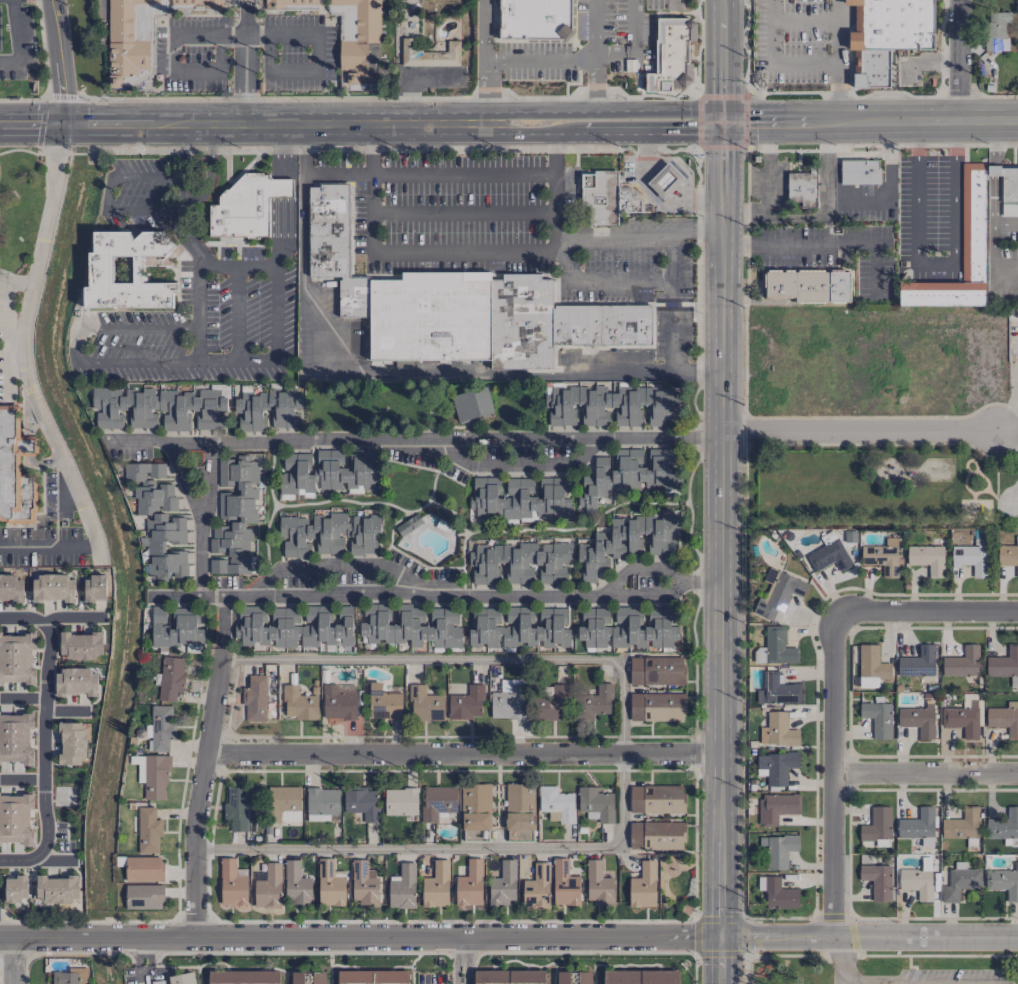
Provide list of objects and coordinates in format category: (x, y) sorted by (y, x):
building: (196, 3)
building: (291, 3)
road: (722, 12)
building: (536, 20)
road: (805, 22)
road: (593, 29)
road: (485, 31)
building: (996, 31)
road: (840, 33)
building: (887, 35)
building: (358, 38)
road: (18, 40)
building: (125, 42)
road: (633, 47)
road: (173, 49)
road: (317, 51)
building: (672, 54)
building: (416, 55)
road: (957, 60)
road: (540, 61)
road: (59, 62)
road: (245, 62)
road: (772, 66)
road: (722, 73)
road: (593, 84)
road: (488, 93)
road: (840, 94)
road: (606, 109)
road: (852, 121)
road: (926, 121)
road: (987, 121)
road: (765, 122)
traffic signals: (722, 123)
road: (151, 124)
road: (198, 124)
road: (350, 124)
road: (33, 125)
road: (91, 125)
road: (536, 134)
road: (654, 134)
road: (994, 143)
road: (302, 148)
road: (370, 148)
road: (553, 153)
building: (756, 158)
road: (768, 170)
road: (994, 170)
road: (462, 172)
building: (859, 172)
road: (337, 173)
building: (665, 180)
gas station: (665, 180)
building: (802, 188)
building: (1009, 191)
road: (279, 194)
building: (600, 197)
road: (826, 197)
building: (630, 200)
road: (994, 200)
building: (247, 206)
road: (554, 206)
road: (115, 210)
road: (463, 213)
road: (744, 218)
building: (973, 222)
road: (1006, 226)
road: (697, 232)
road: (615, 236)
road: (189, 237)
road: (795, 244)
road: (428, 253)
road: (994, 263)
road: (242, 265)
road: (935, 266)
road: (873, 269)
building: (126, 272)
road: (600, 281)
building: (809, 286)
road: (672, 303)
building: (459, 306)
road: (237, 313)
road: (7, 320)
road: (78, 344)
road: (234, 360)
road: (432, 373)
road: (28, 386)
building: (472, 404)
building: (610, 405)
building: (157, 409)
building: (267, 409)
road: (1006, 419)
road: (857, 431)
road: (1006, 437)
road: (413, 438)
road: (520, 464)
building: (15, 469)
building: (329, 471)
building: (628, 474)
road: (720, 482)
road: (182, 484)
road: (209, 484)
building: (518, 498)
building: (235, 516)
building: (159, 520)
building: (408, 525)
building: (328, 534)
building: (627, 542)
building: (829, 556)
building: (882, 557)
building: (972, 557)
building: (1008, 557)
building: (926, 558)
road: (200, 561)
building: (520, 562)
road: (337, 567)
road: (640, 568)
building: (53, 588)
building: (11, 589)
building: (94, 589)
building: (779, 594)
road: (441, 596)
road: (926, 614)
road: (73, 619)
building: (267, 626)
building: (326, 626)
building: (412, 626)
building: (175, 628)
building: (520, 628)
building: (628, 628)
building: (80, 645)
building: (777, 646)
building: (16, 658)
road: (466, 658)
building: (917, 663)
building: (962, 663)
building: (1005, 665)
building: (871, 667)
building: (657, 670)
building: (170, 678)
building: (75, 682)
building: (778, 690)
road: (23, 698)
building: (255, 699)
building: (339, 701)
building: (508, 701)
building: (383, 703)
building: (467, 703)
building: (549, 703)
building: (593, 703)
building: (298, 704)
building: (425, 704)
building: (657, 707)
building: (964, 716)
building: (877, 719)
building: (918, 719)
building: (1004, 719)
building: (160, 728)
building: (777, 731)
building: (15, 738)
road: (44, 739)
building: (71, 744)
road: (462, 752)
road: (204, 766)
building: (777, 766)
road: (835, 776)
road: (926, 776)
building: (155, 777)
road: (22, 779)
building: (656, 799)
building: (400, 801)
building: (437, 802)
building: (362, 803)
building: (557, 803)
building: (596, 803)
building: (283, 804)
building: (322, 804)
building: (475, 807)
building: (519, 807)
building: (776, 807)
building: (237, 808)
building: (16, 818)
building: (877, 824)
building: (917, 824)
building: (962, 825)
building: (1004, 825)
building: (148, 830)
building: (656, 835)
road: (453, 847)
building: (779, 850)
road: (56, 862)
building: (143, 869)
building: (877, 881)
building: (1003, 882)
building: (231, 883)
building: (917, 883)
building: (960, 883)
building: (296, 884)
building: (364, 884)
building: (469, 884)
building: (503, 884)
building: (564, 884)
building: (597, 884)
building: (331, 886)
building: (436, 886)
building: (643, 886)
building: (537, 887)
building: (56, 888)
building: (268, 888)
building: (403, 888)
building: (15, 889)
road: (720, 889)
park: (681, 890)
building: (779, 894)
building: (144, 897)
road: (508, 937)
traffic signals: (720, 937)
road: (143, 951)
road: (461, 955)
road: (13, 960)
road: (720, 960)
road: (145, 974)
building: (70, 976)
building: (243, 977)
building: (373, 977)
building: (509, 977)
building: (563, 977)
building: (584, 977)
building: (640, 977)
building: (302, 978)
building: (319, 978)
building: (182, 979)
road: (462, 979)
road: (905, 983)

